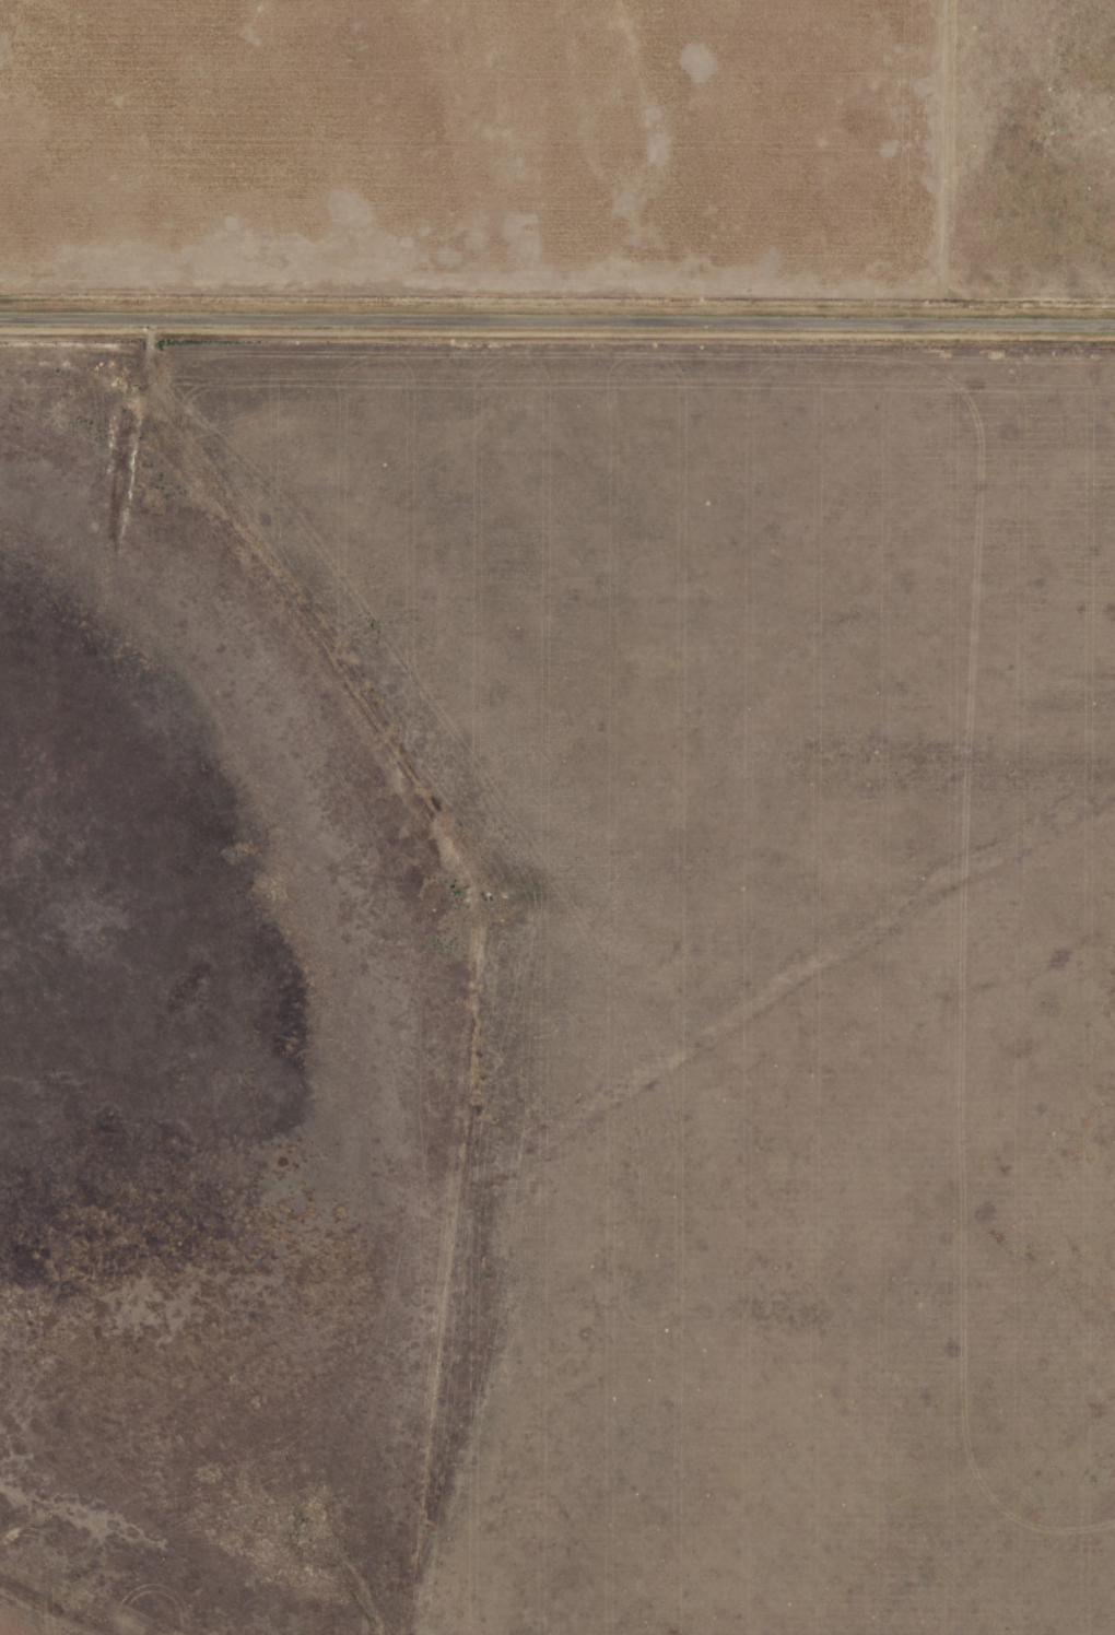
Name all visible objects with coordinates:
road: (557, 320)

